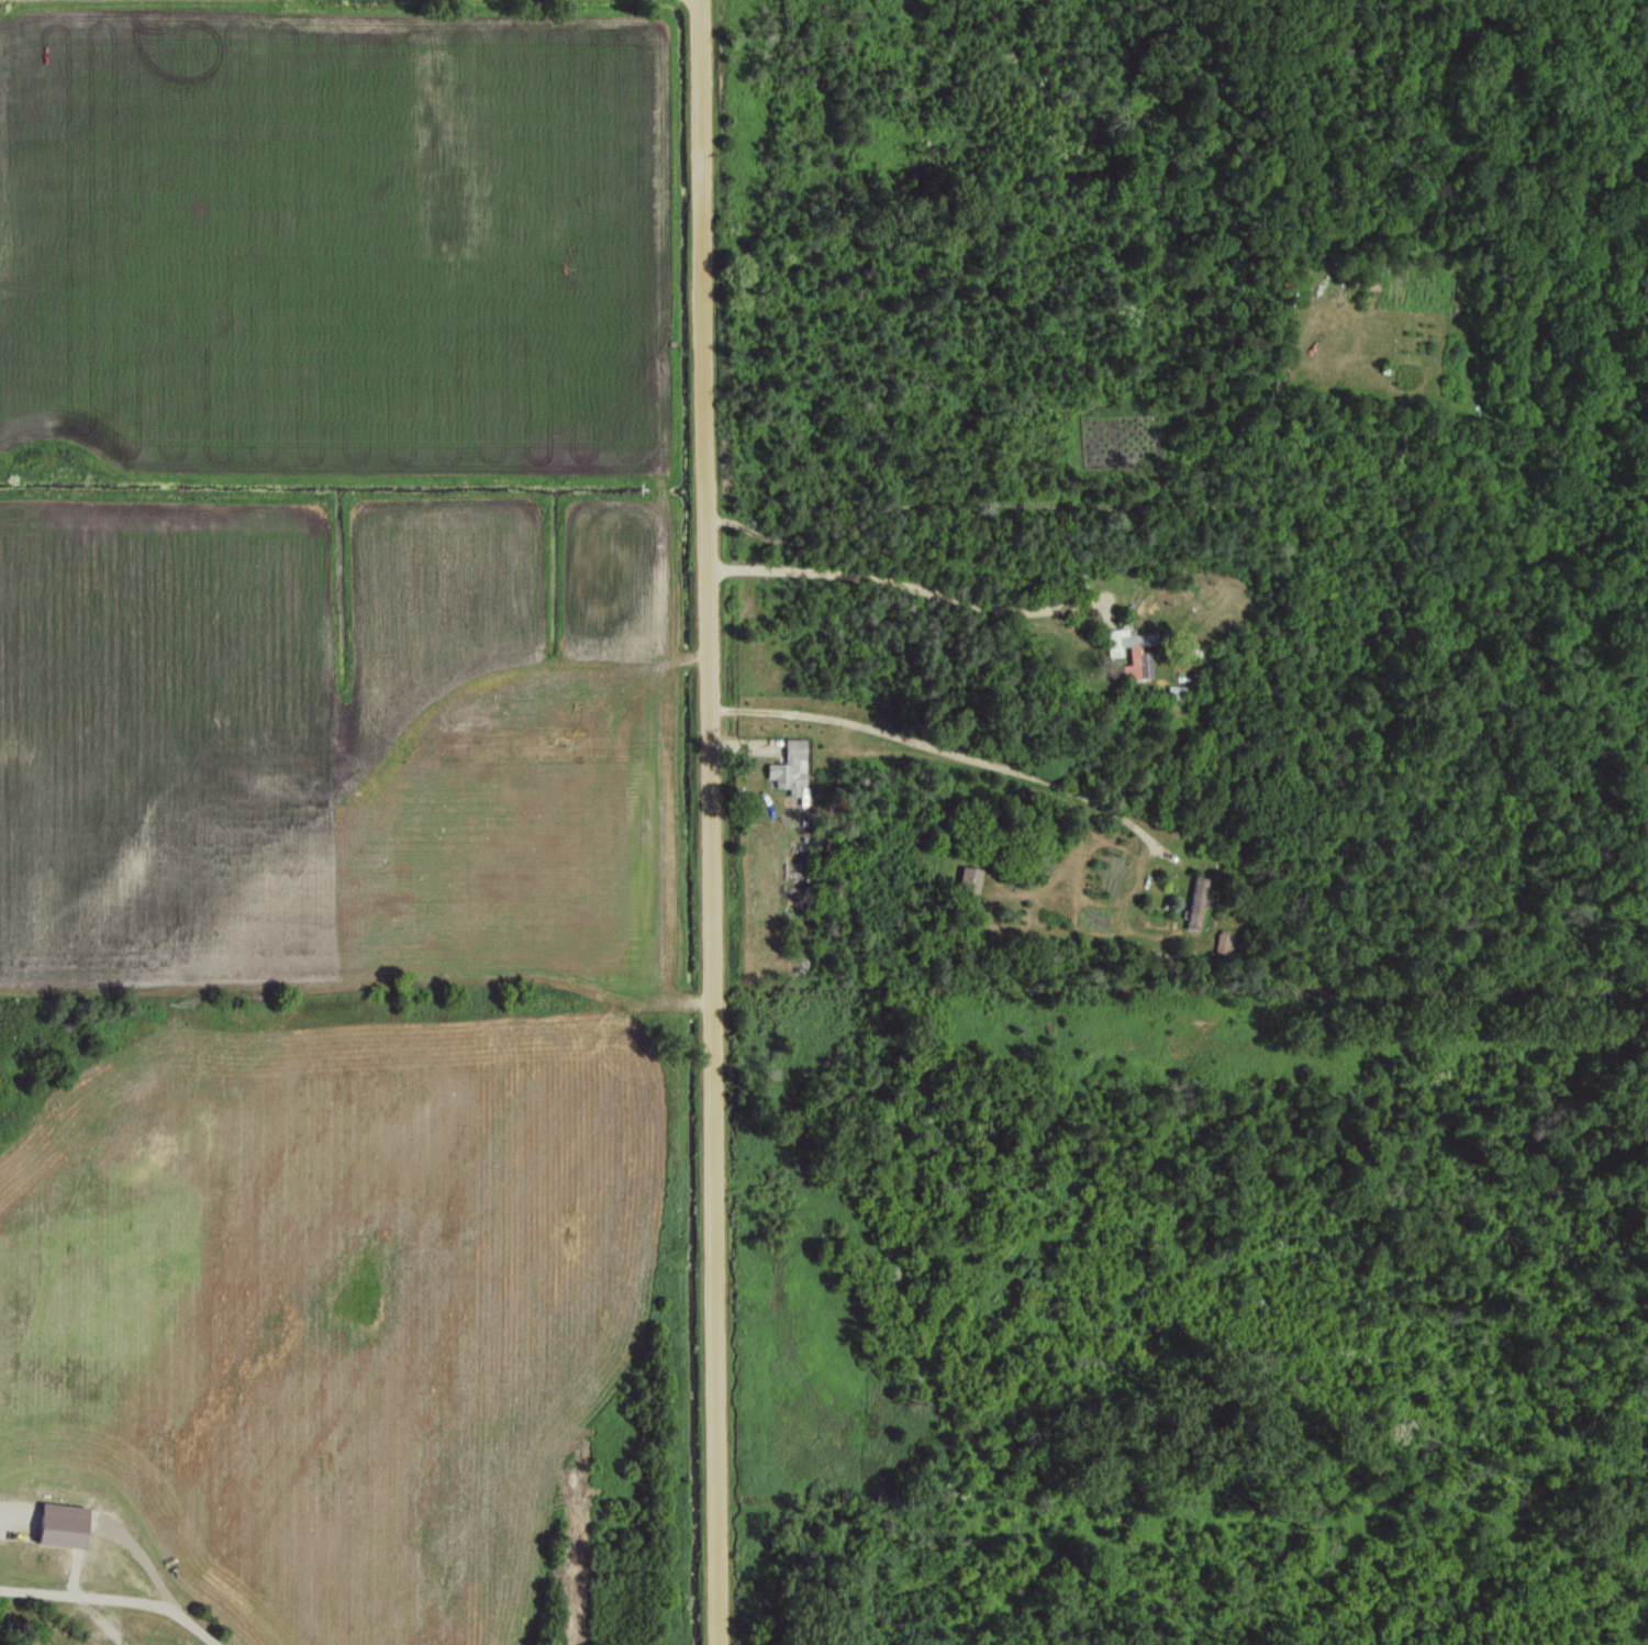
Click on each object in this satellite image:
road: (917, 587)
building: (1128, 651)
road: (942, 747)
building: (789, 768)
road: (708, 822)
building: (968, 879)
building: (1195, 902)
building: (1222, 941)
building: (59, 1525)
road: (157, 1599)

